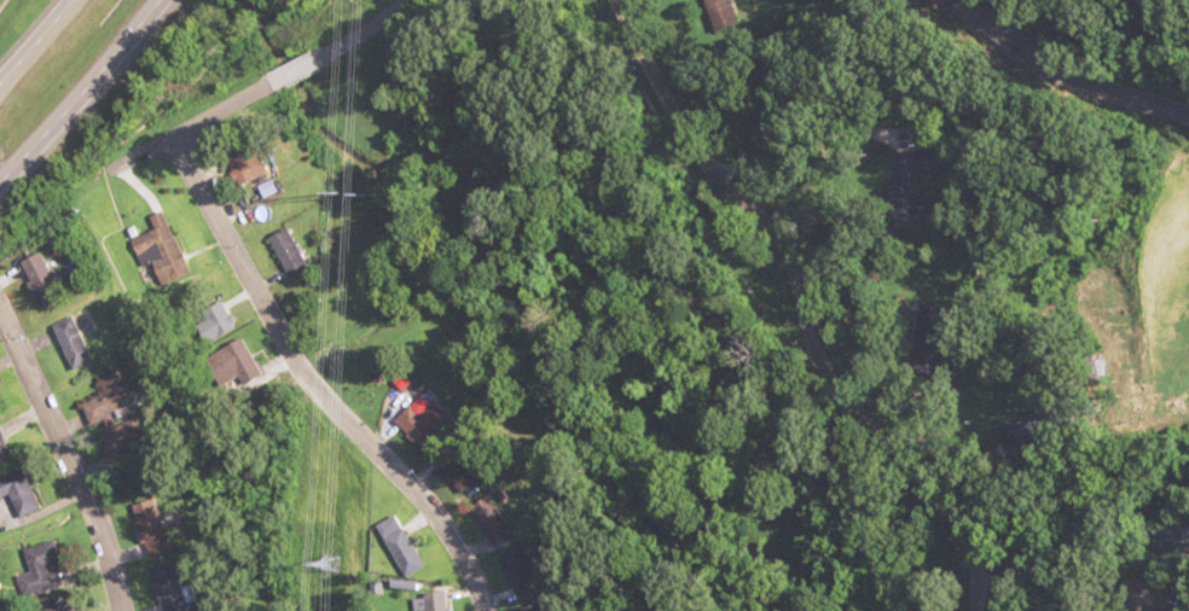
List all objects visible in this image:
road: (36, 41)
road: (1092, 46)
road: (82, 93)
building: (255, 165)
building: (295, 251)
building: (167, 254)
road: (259, 261)
building: (48, 280)
road: (787, 316)
building: (83, 343)
building: (244, 374)
building: (114, 406)
building: (8, 446)
building: (132, 449)
road: (76, 453)
building: (27, 491)
building: (157, 528)
building: (400, 546)
power tower: (332, 564)
building: (43, 565)
building: (174, 588)
building: (437, 600)
building: (66, 610)
building: (546, 610)

